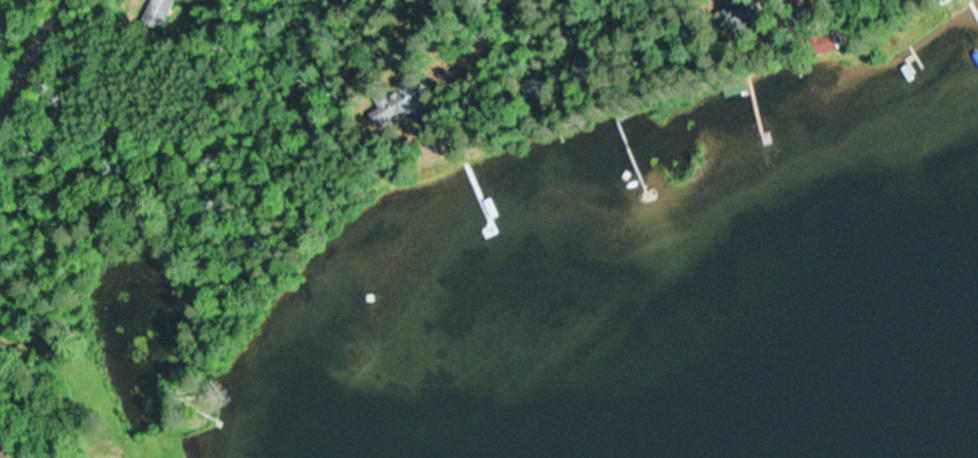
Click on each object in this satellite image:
building: (158, 3)
road: (437, 13)
road: (719, 14)
road: (25, 41)
building: (401, 100)

